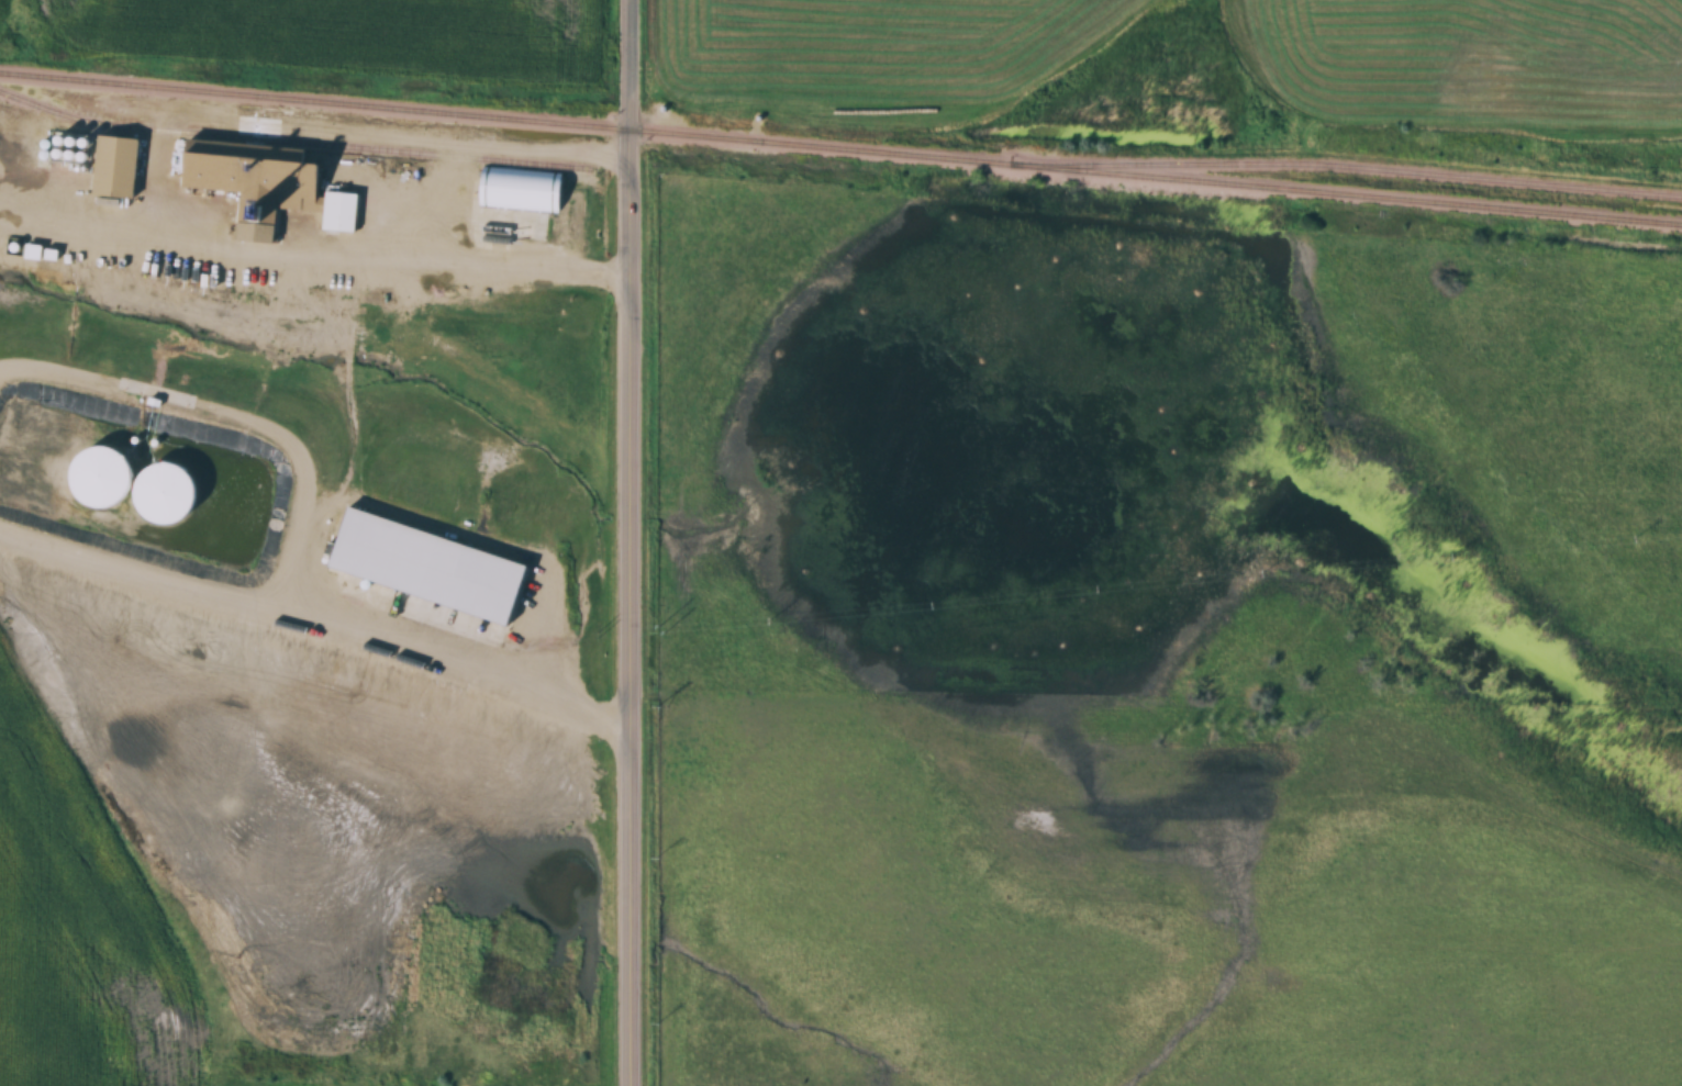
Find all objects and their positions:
railway: (506, 119)
railway: (290, 142)
building: (118, 167)
railway: (1348, 168)
building: (267, 179)
railway: (1347, 194)
road: (312, 253)
building: (105, 473)
building: (169, 493)
road: (625, 542)
road: (318, 618)

